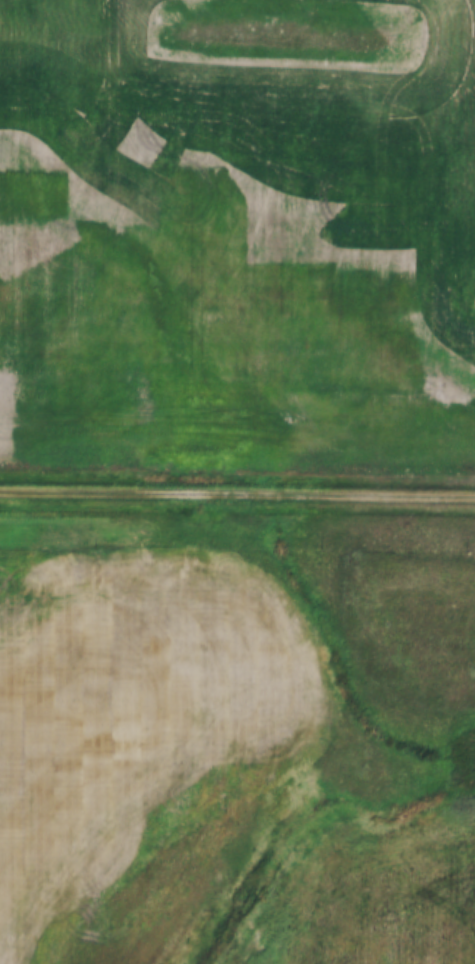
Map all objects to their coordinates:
road: (237, 498)

